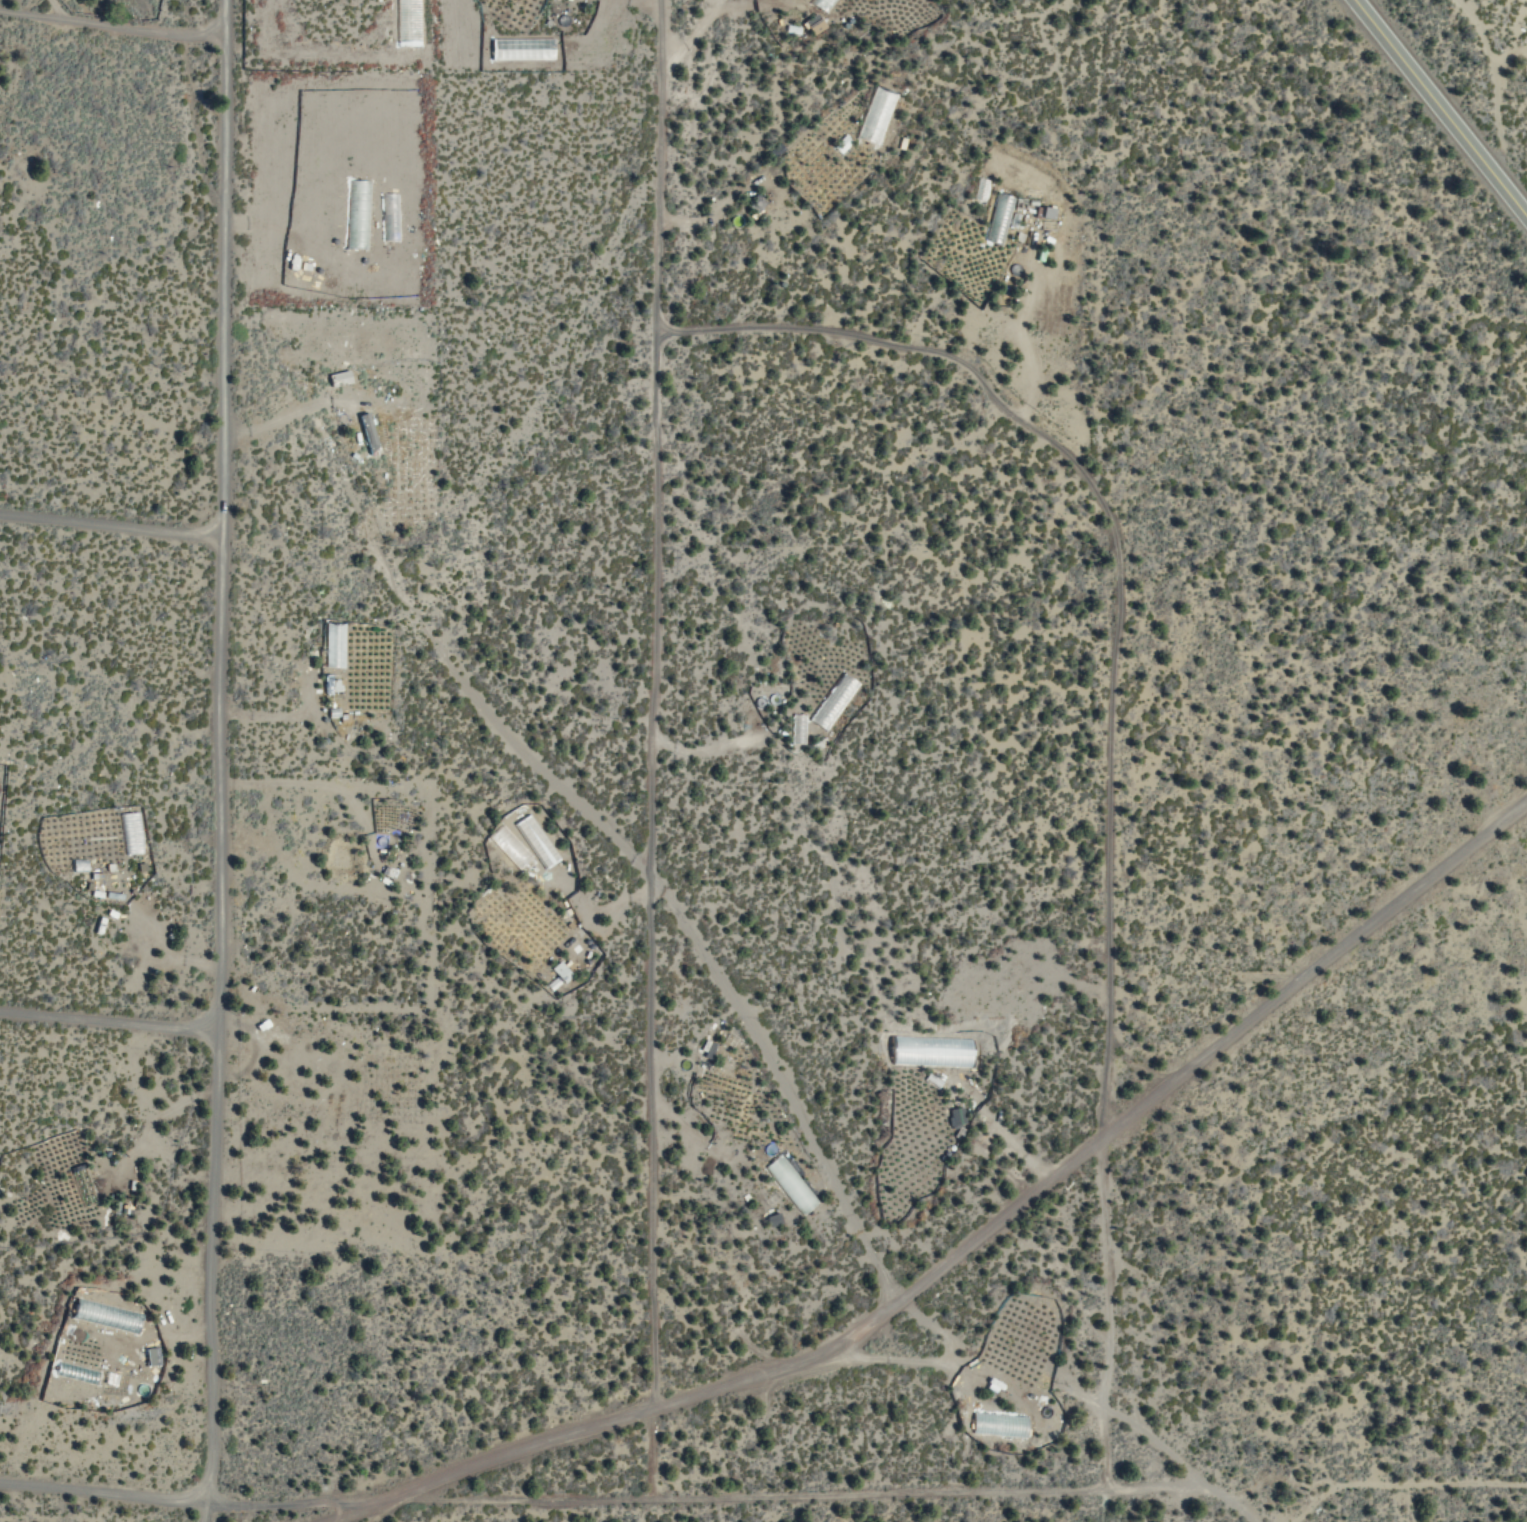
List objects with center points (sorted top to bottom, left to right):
road: (109, 23)
road: (1494, 85)
road: (1441, 107)
building: (337, 378)
building: (366, 434)
road: (109, 523)
building: (832, 701)
road: (1106, 735)
road: (644, 749)
road: (212, 761)
road: (591, 813)
building: (130, 833)
building: (534, 841)
building: (78, 865)
building: (99, 883)
road: (1311, 961)
building: (559, 972)
road: (106, 1020)
building: (706, 1049)
building: (81, 1184)
road: (966, 1235)
road: (645, 1404)
road: (599, 1497)
road: (1224, 1497)
road: (486, 1514)

